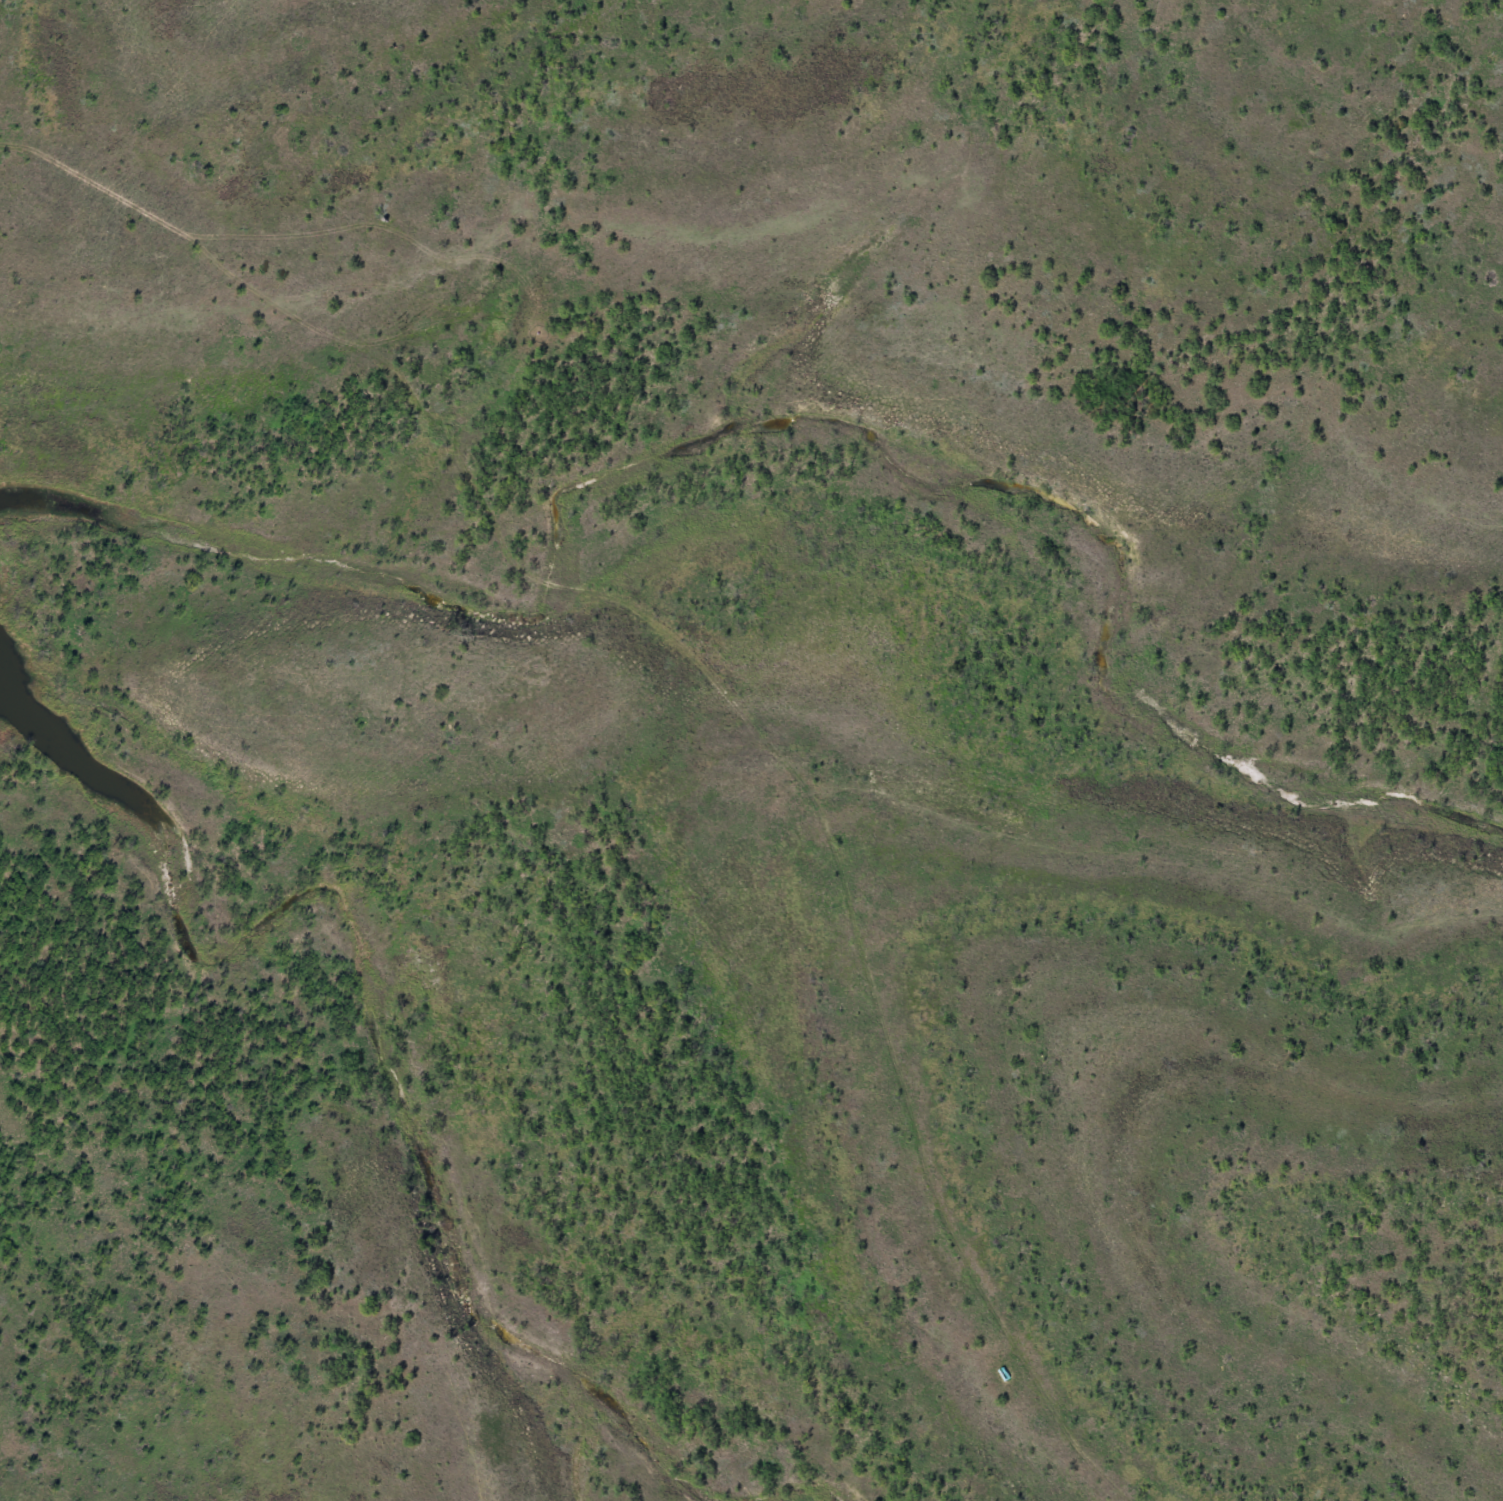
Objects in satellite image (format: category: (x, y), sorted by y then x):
road: (713, 676)

